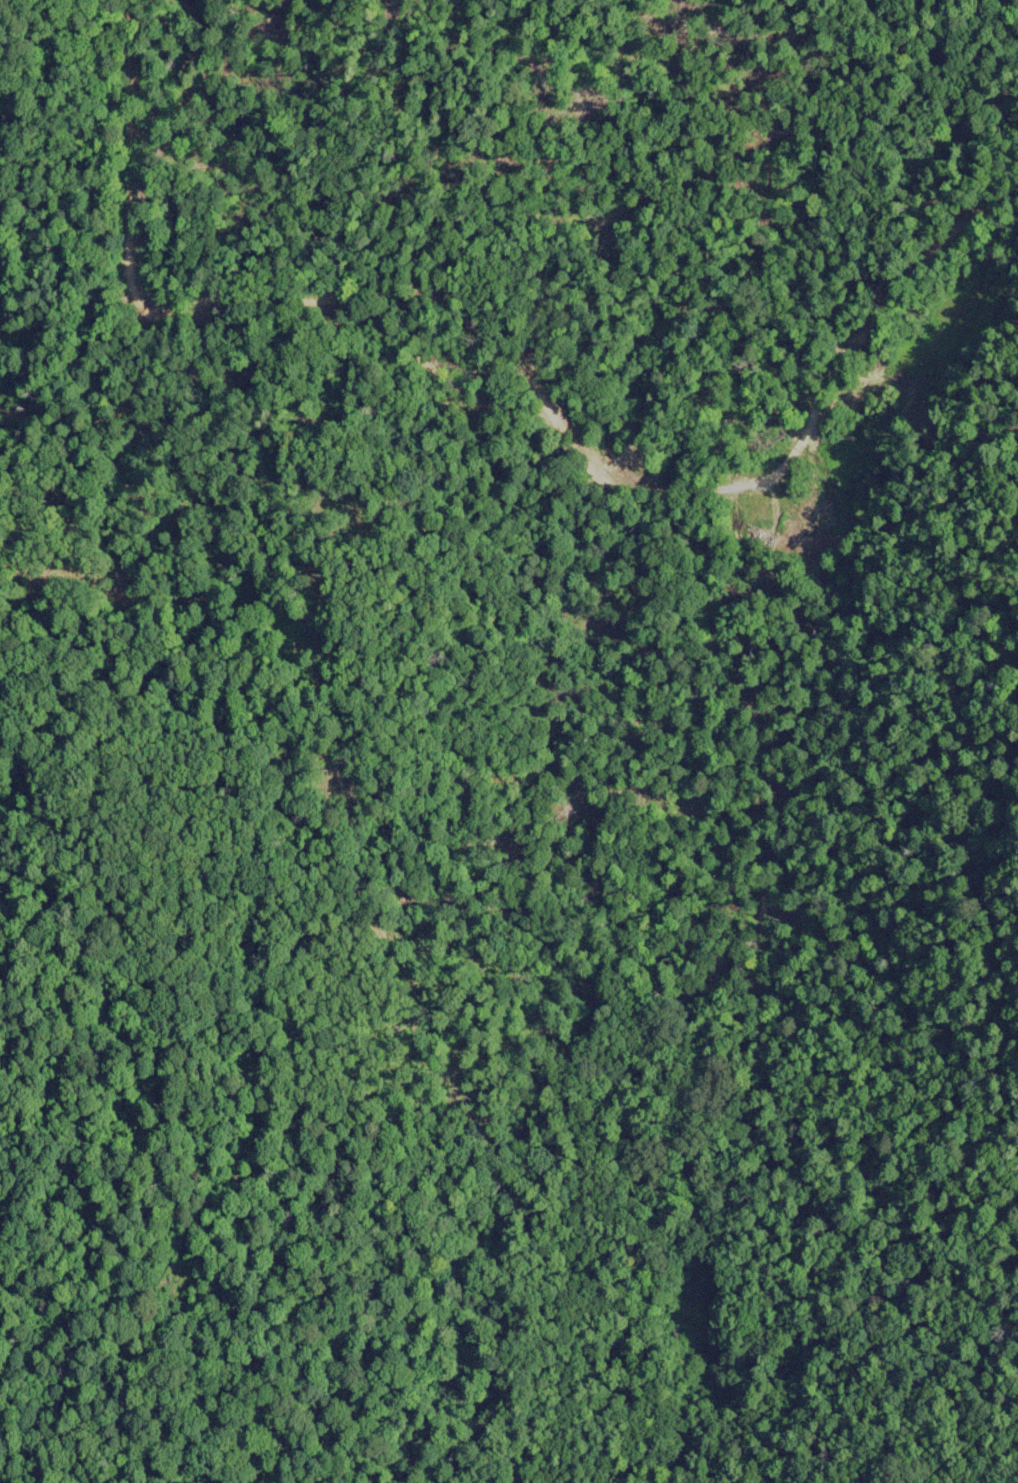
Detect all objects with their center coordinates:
road: (140, 75)
road: (159, 205)
road: (969, 211)
road: (970, 336)
road: (582, 430)
road: (225, 826)
road: (1012, 958)

